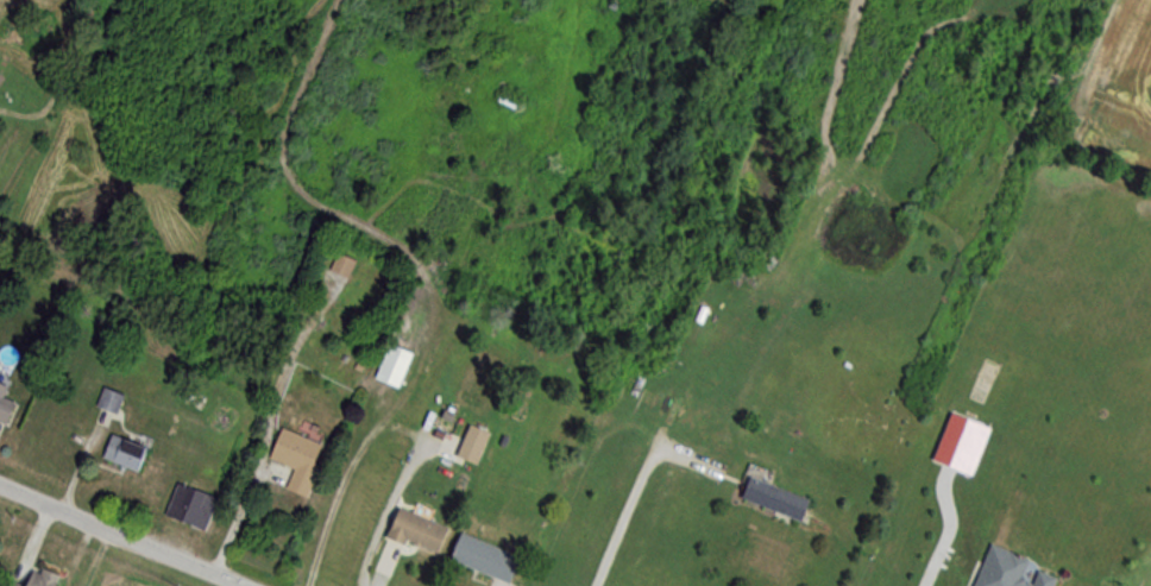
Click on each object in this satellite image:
crop: (1121, 87)
building: (340, 266)
building: (392, 367)
building: (108, 402)
building: (4, 408)
building: (471, 446)
building: (121, 454)
building: (295, 461)
building: (774, 499)
building: (189, 506)
road: (235, 517)
road: (628, 519)
building: (415, 531)
road: (119, 535)
building: (483, 559)
building: (1007, 571)
building: (31, 579)

